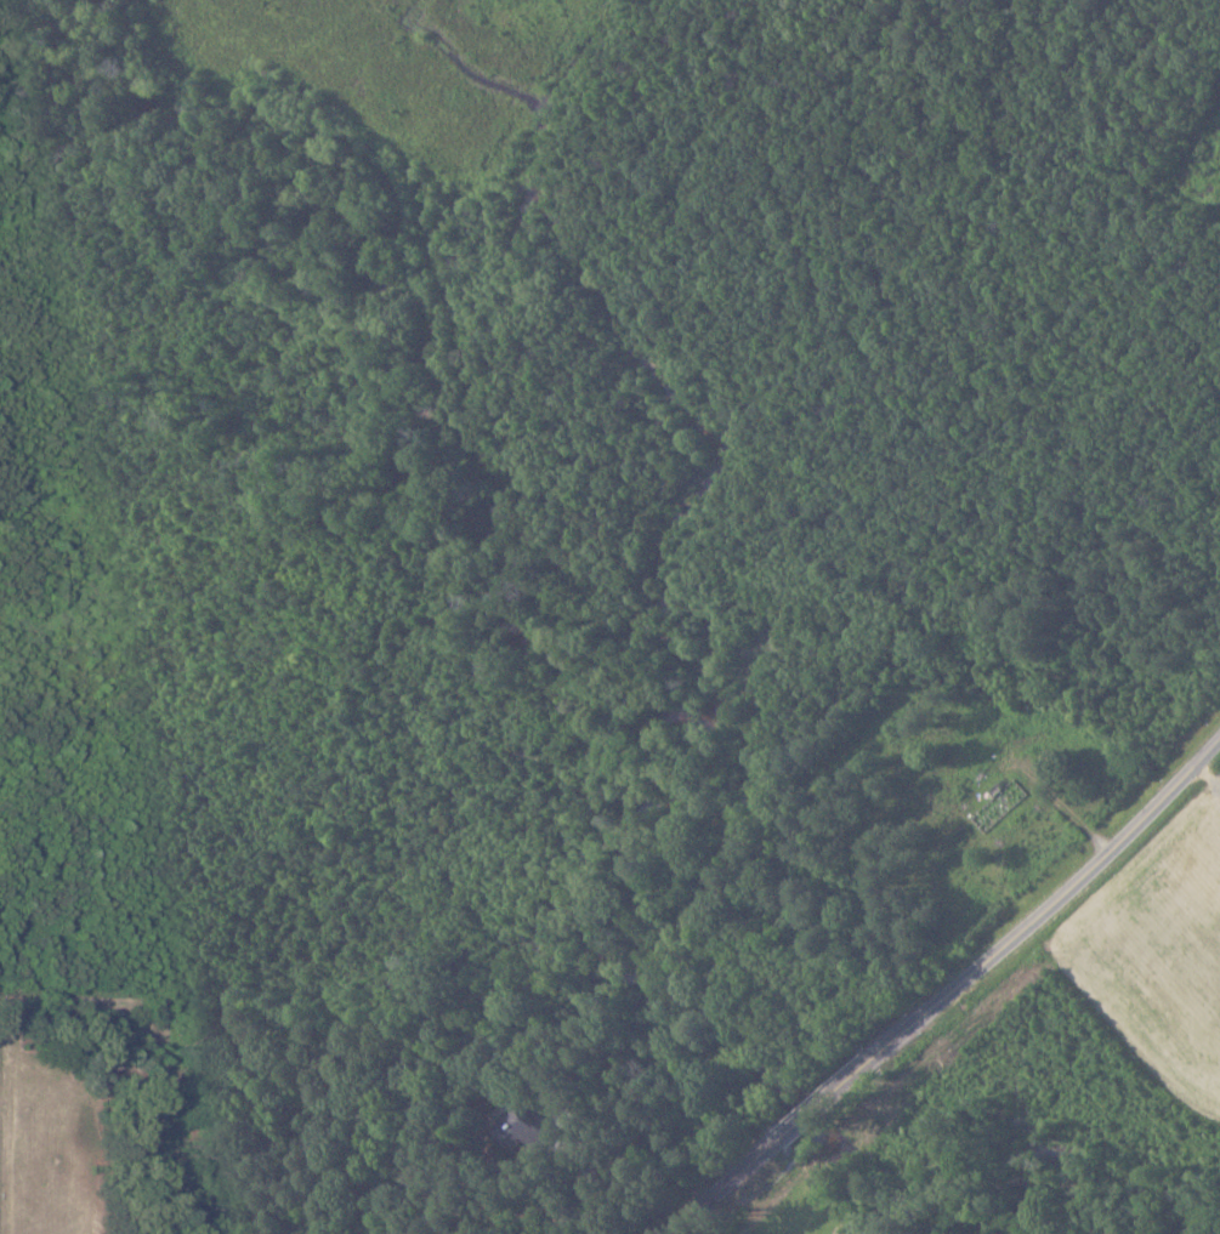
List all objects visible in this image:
road: (952, 990)
building: (518, 1124)

